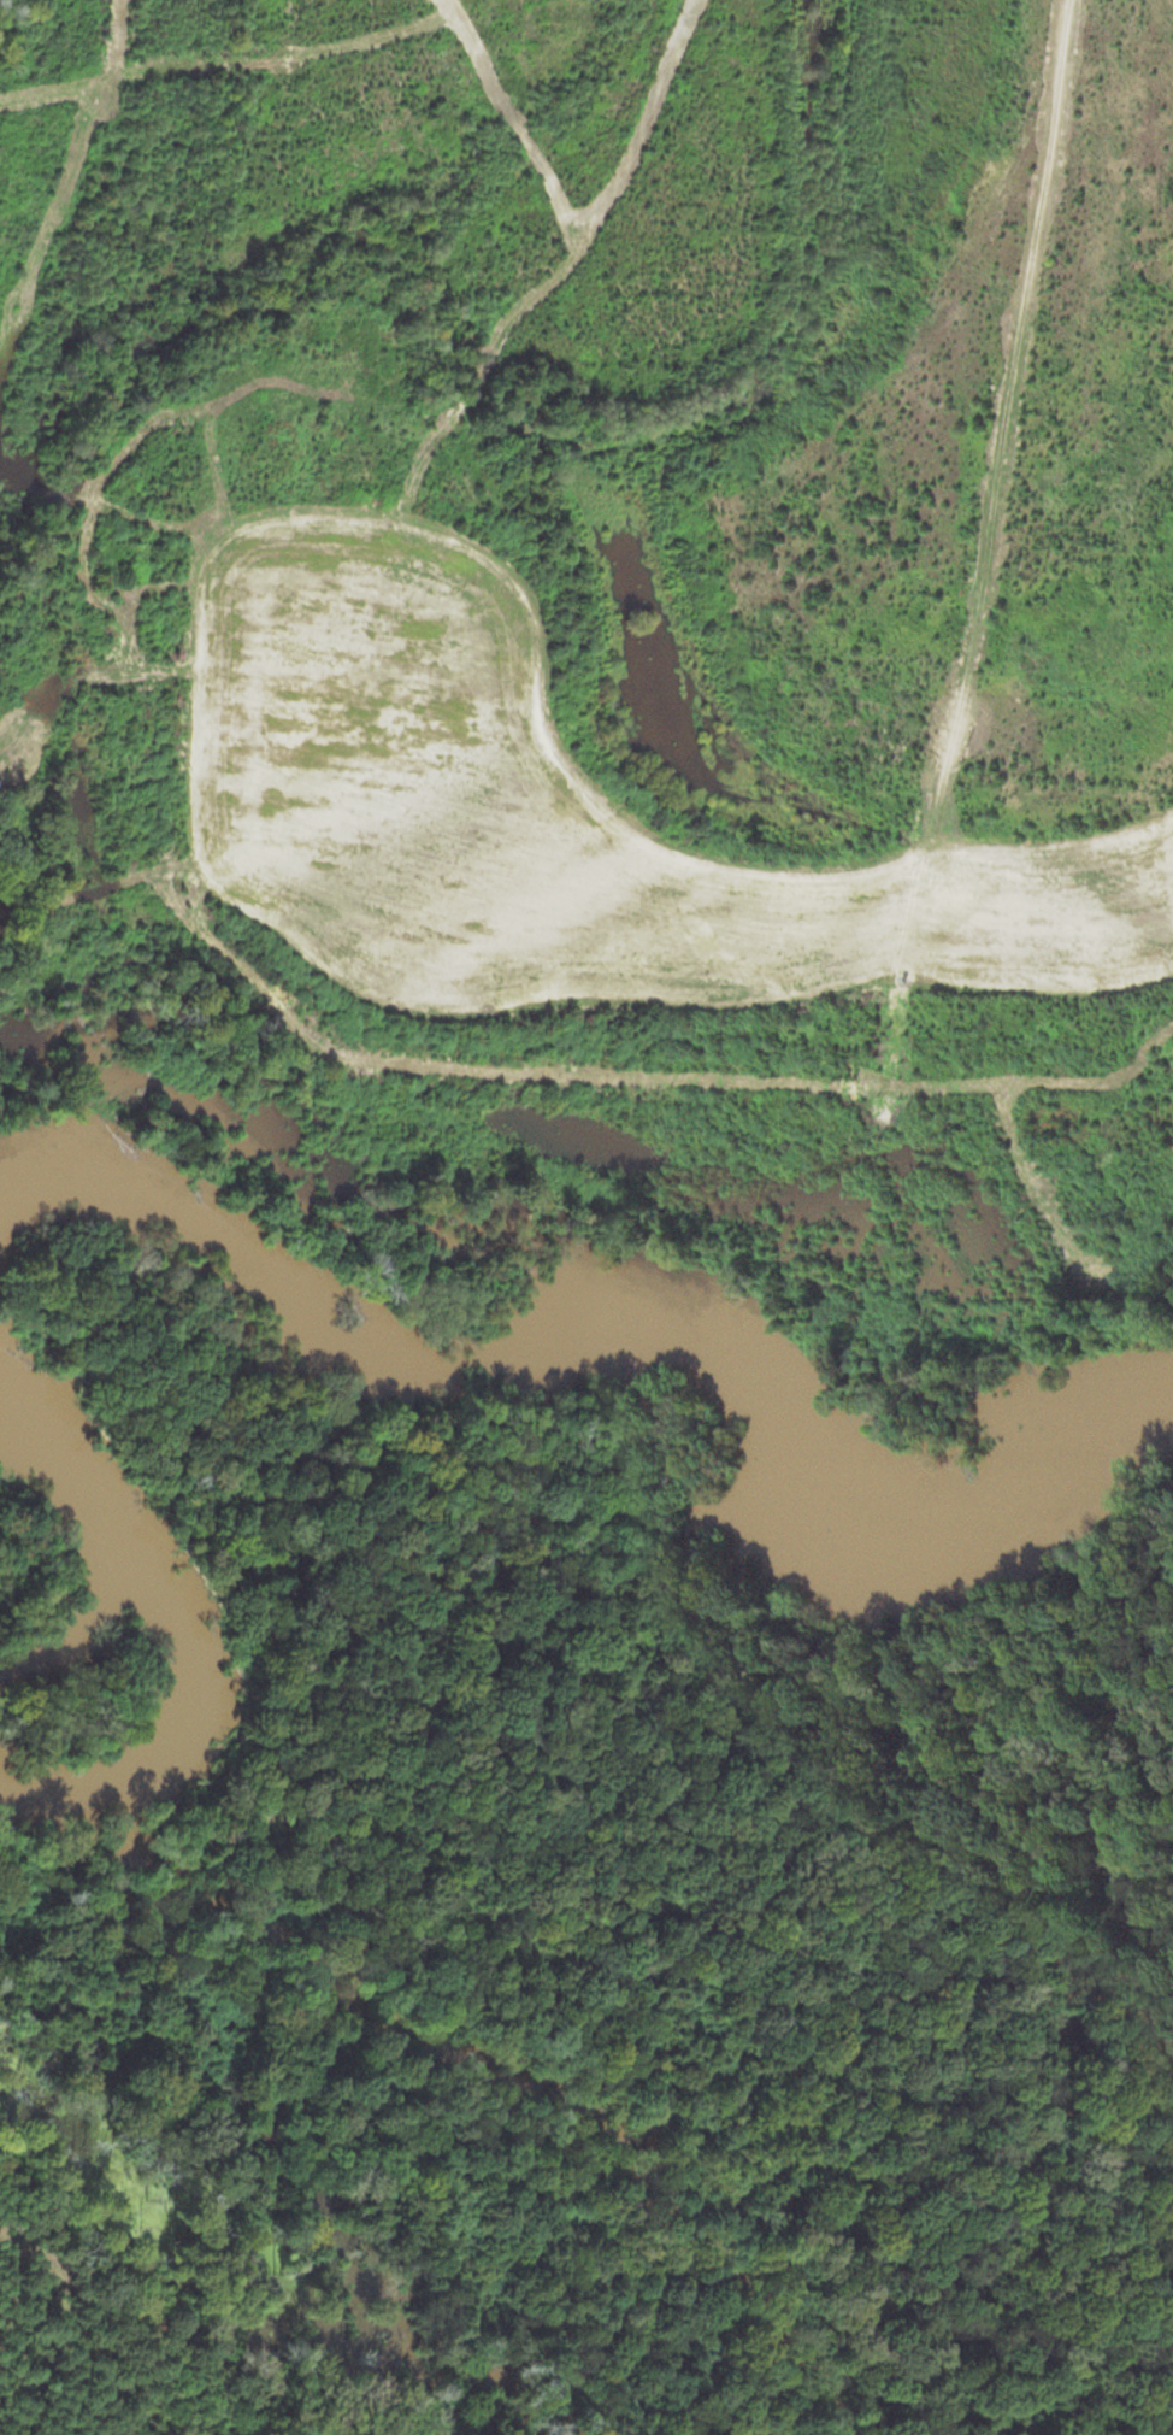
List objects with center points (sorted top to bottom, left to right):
river: (638, 1312)
river: (39, 1490)
river: (61, 1618)
building: (518, 2077)

